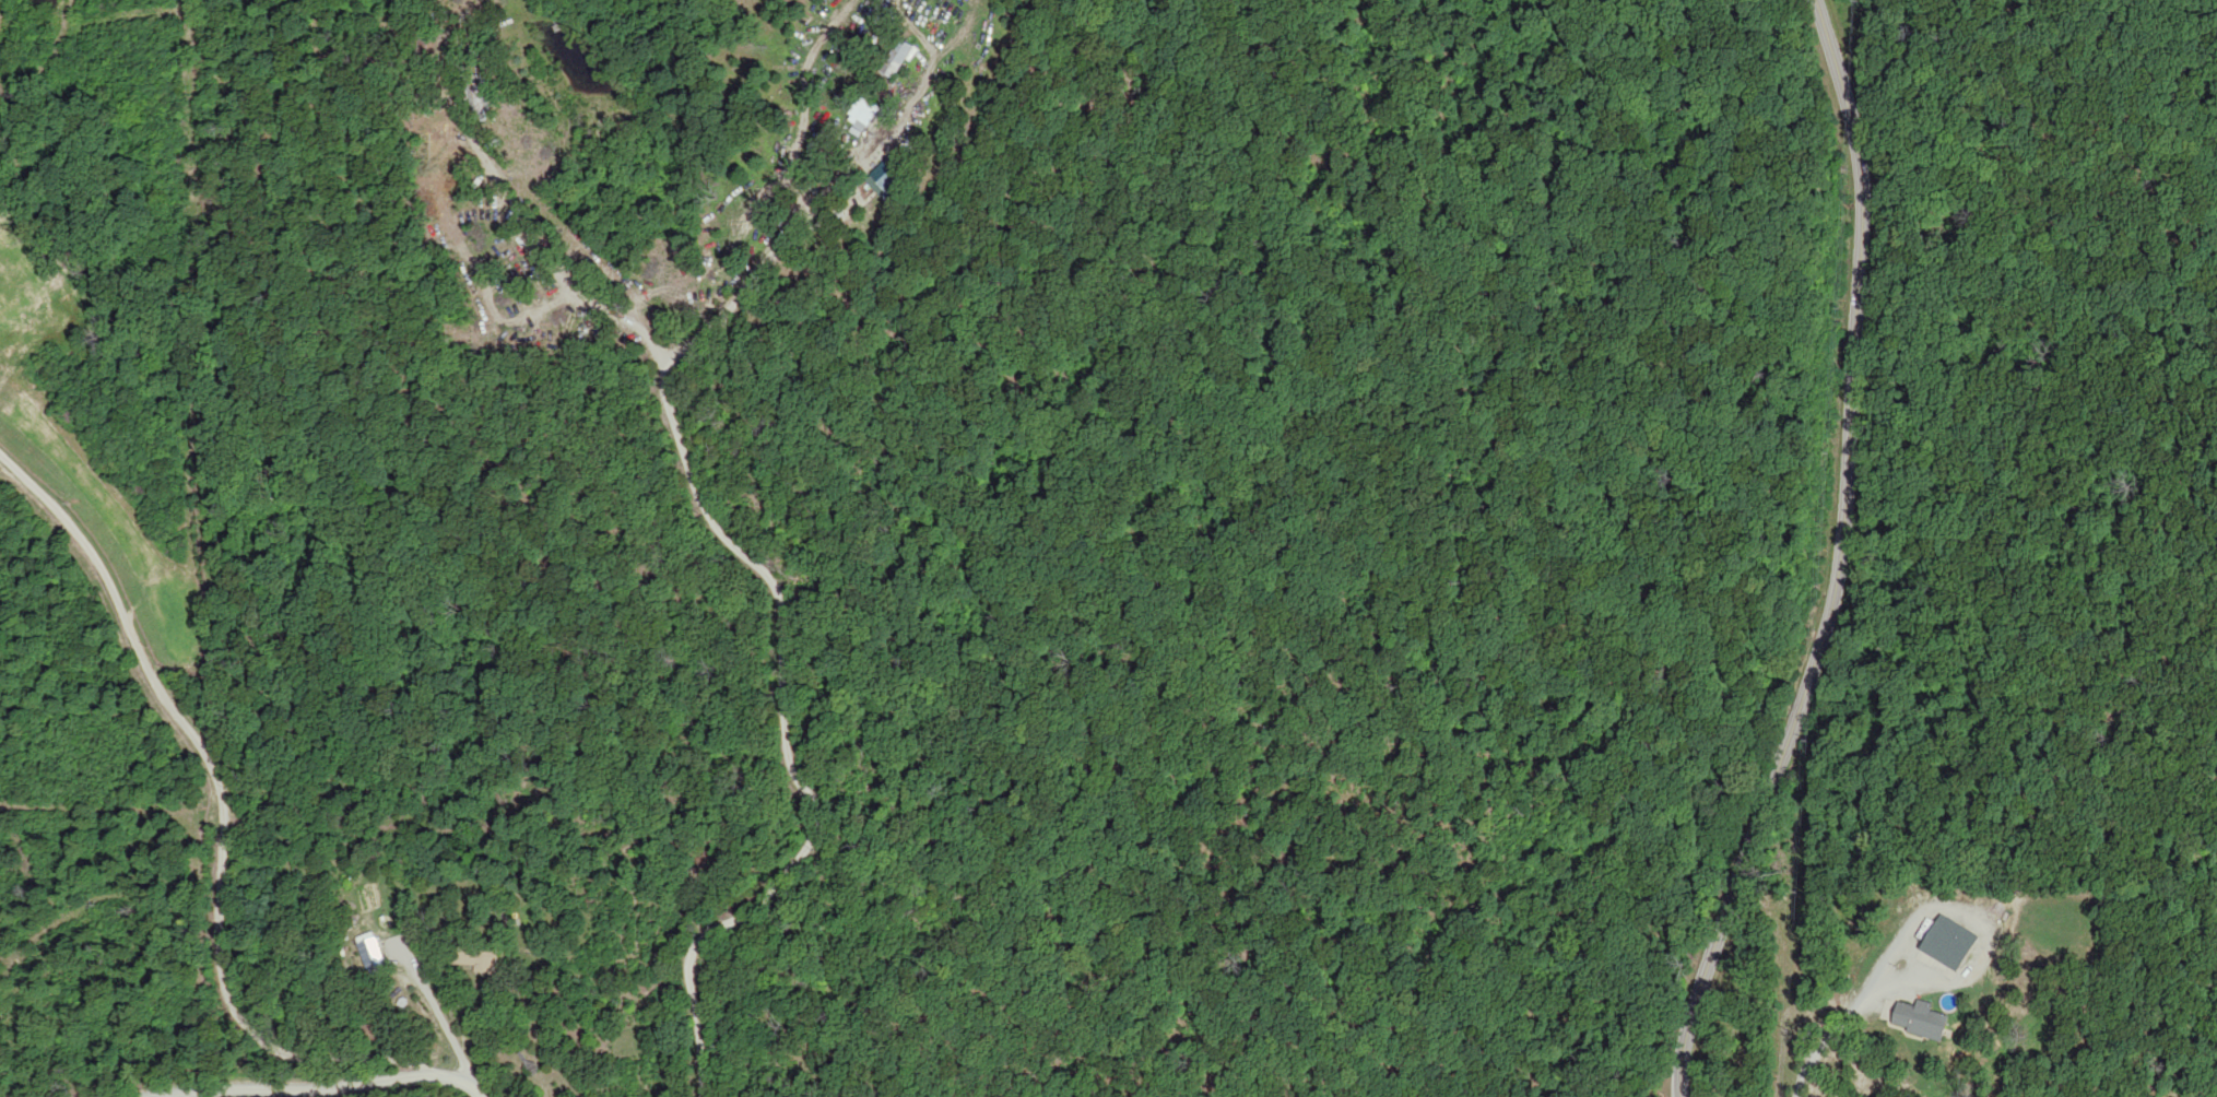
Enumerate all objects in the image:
building: (900, 59)
building: (863, 115)
building: (891, 175)
park: (1702, 425)
road: (1840, 557)
road: (881, 575)
road: (262, 746)
building: (370, 896)
building: (1950, 943)
building: (374, 955)
building: (477, 958)
building: (1921, 1019)

